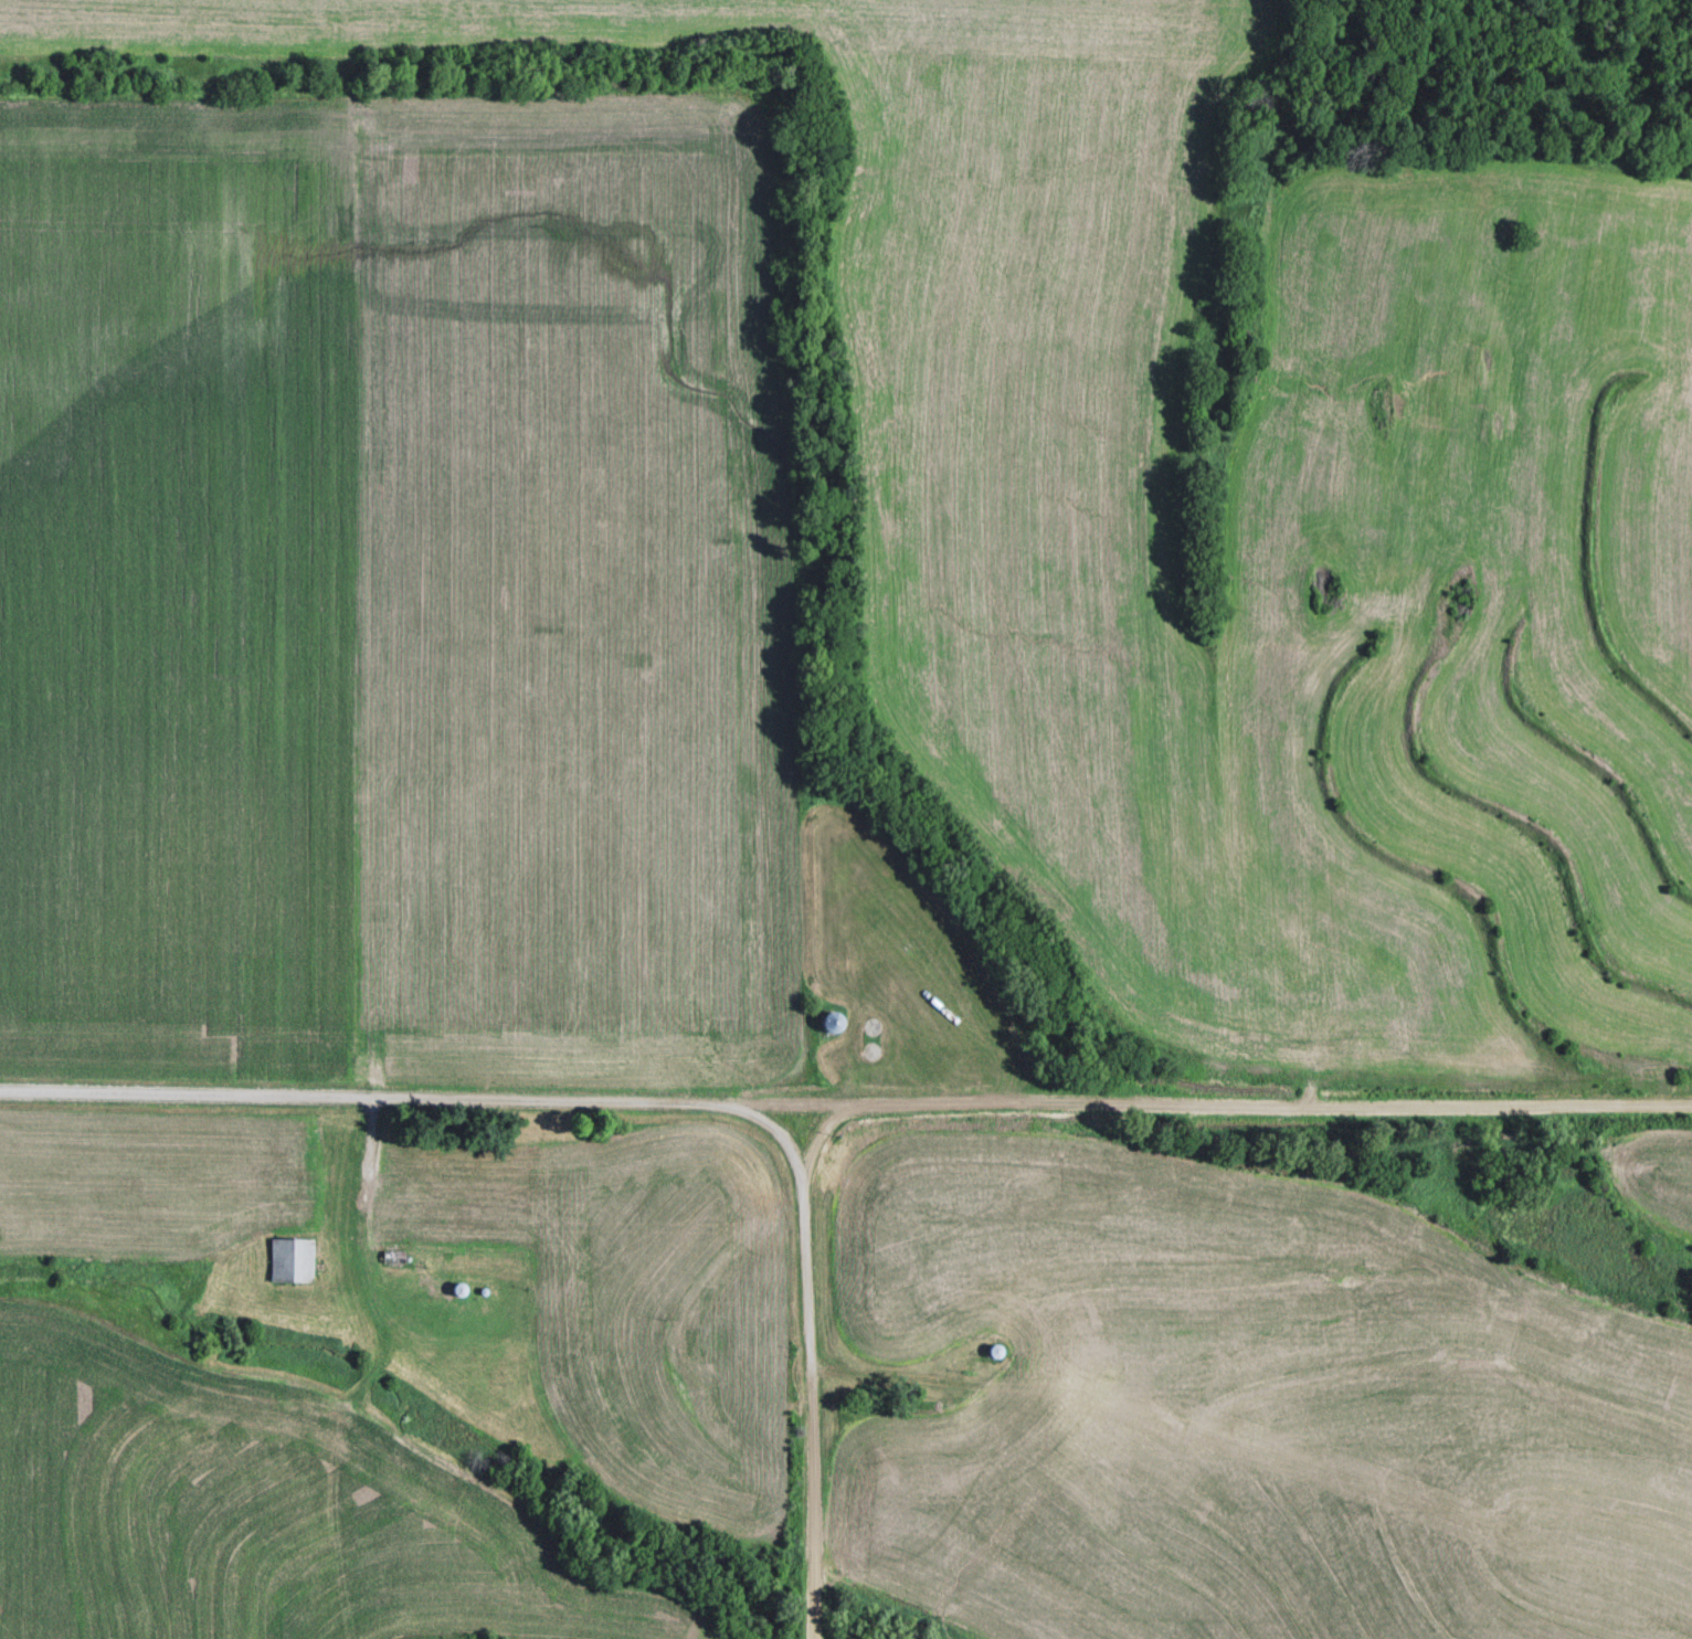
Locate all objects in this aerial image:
building: (832, 1022)
road: (362, 1098)
road: (1208, 1104)
road: (813, 1133)
building: (292, 1259)
road: (804, 1351)
building: (994, 1351)

